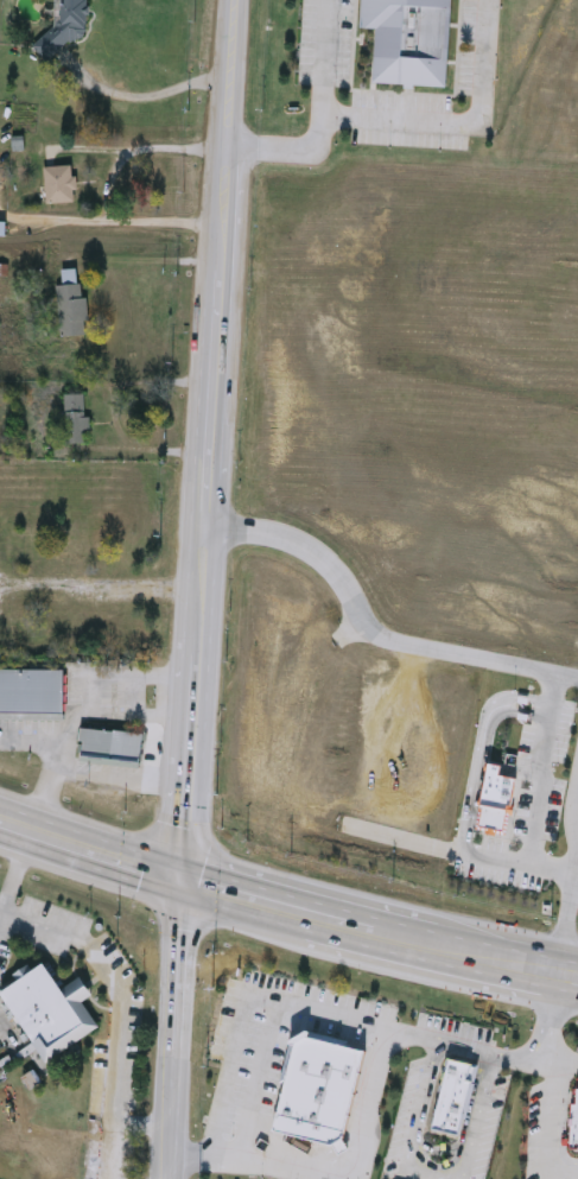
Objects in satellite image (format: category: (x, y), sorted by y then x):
building: (70, 26)
building: (411, 42)
road: (325, 58)
road: (147, 100)
road: (462, 125)
road: (284, 151)
building: (61, 186)
road: (108, 189)
building: (2, 229)
building: (72, 305)
building: (75, 421)
road: (204, 437)
building: (75, 553)
building: (49, 601)
building: (80, 627)
road: (369, 628)
building: (8, 641)
building: (32, 697)
road: (82, 715)
road: (30, 740)
building: (112, 749)
road: (114, 782)
building: (481, 801)
road: (572, 830)
road: (529, 842)
road: (11, 852)
road: (574, 876)
road: (286, 907)
road: (258, 1006)
road: (110, 1012)
building: (51, 1014)
road: (164, 1027)
road: (437, 1039)
road: (546, 1060)
road: (566, 1063)
road: (419, 1110)
road: (478, 1117)
road: (548, 1120)
road: (230, 1164)

